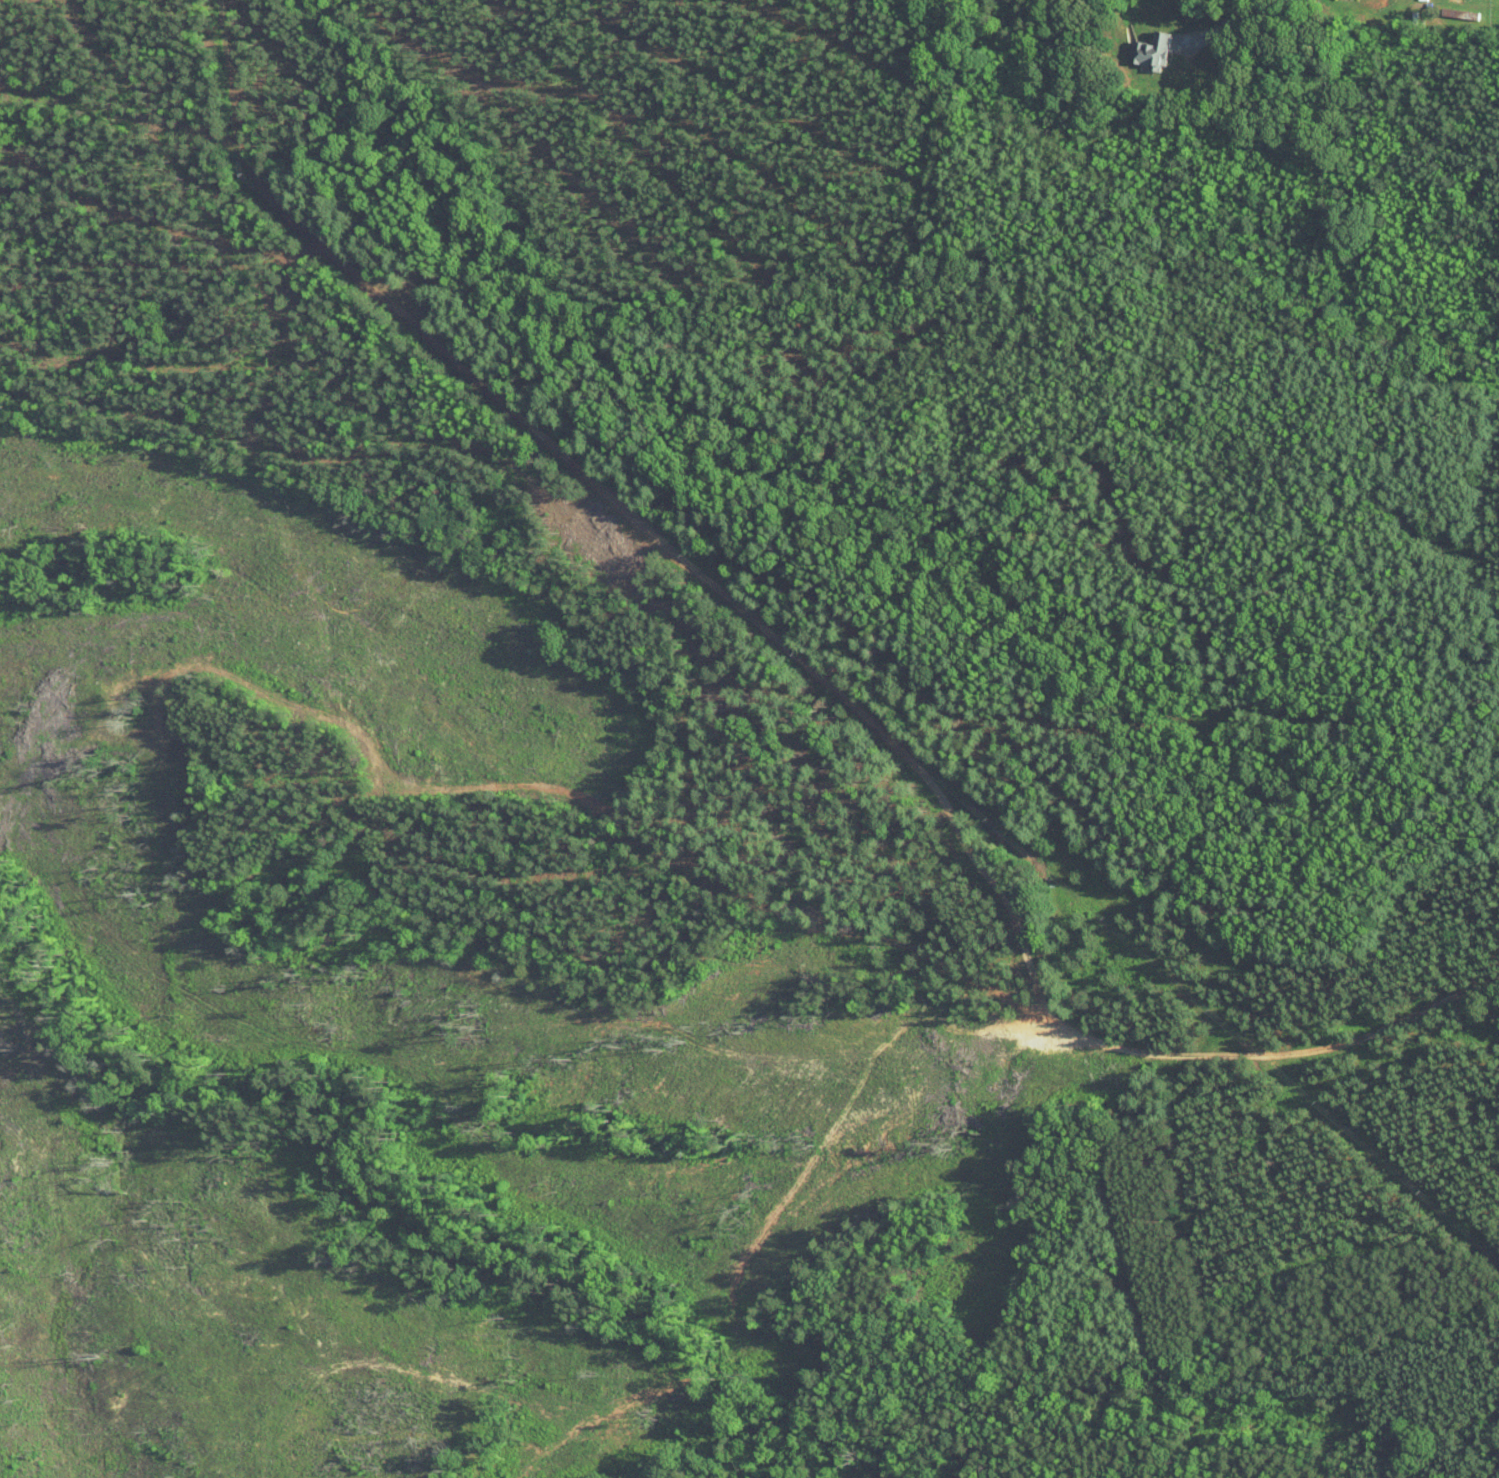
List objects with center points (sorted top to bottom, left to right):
building: (1459, 13)
road: (1220, 23)
building: (1150, 51)

